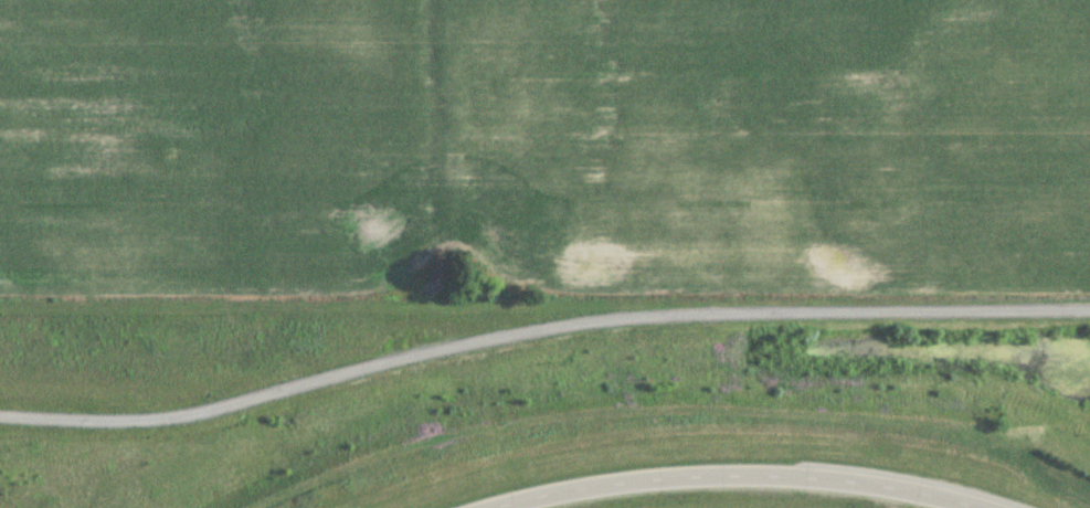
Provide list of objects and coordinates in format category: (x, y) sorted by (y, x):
road: (539, 327)
raceway: (733, 477)

